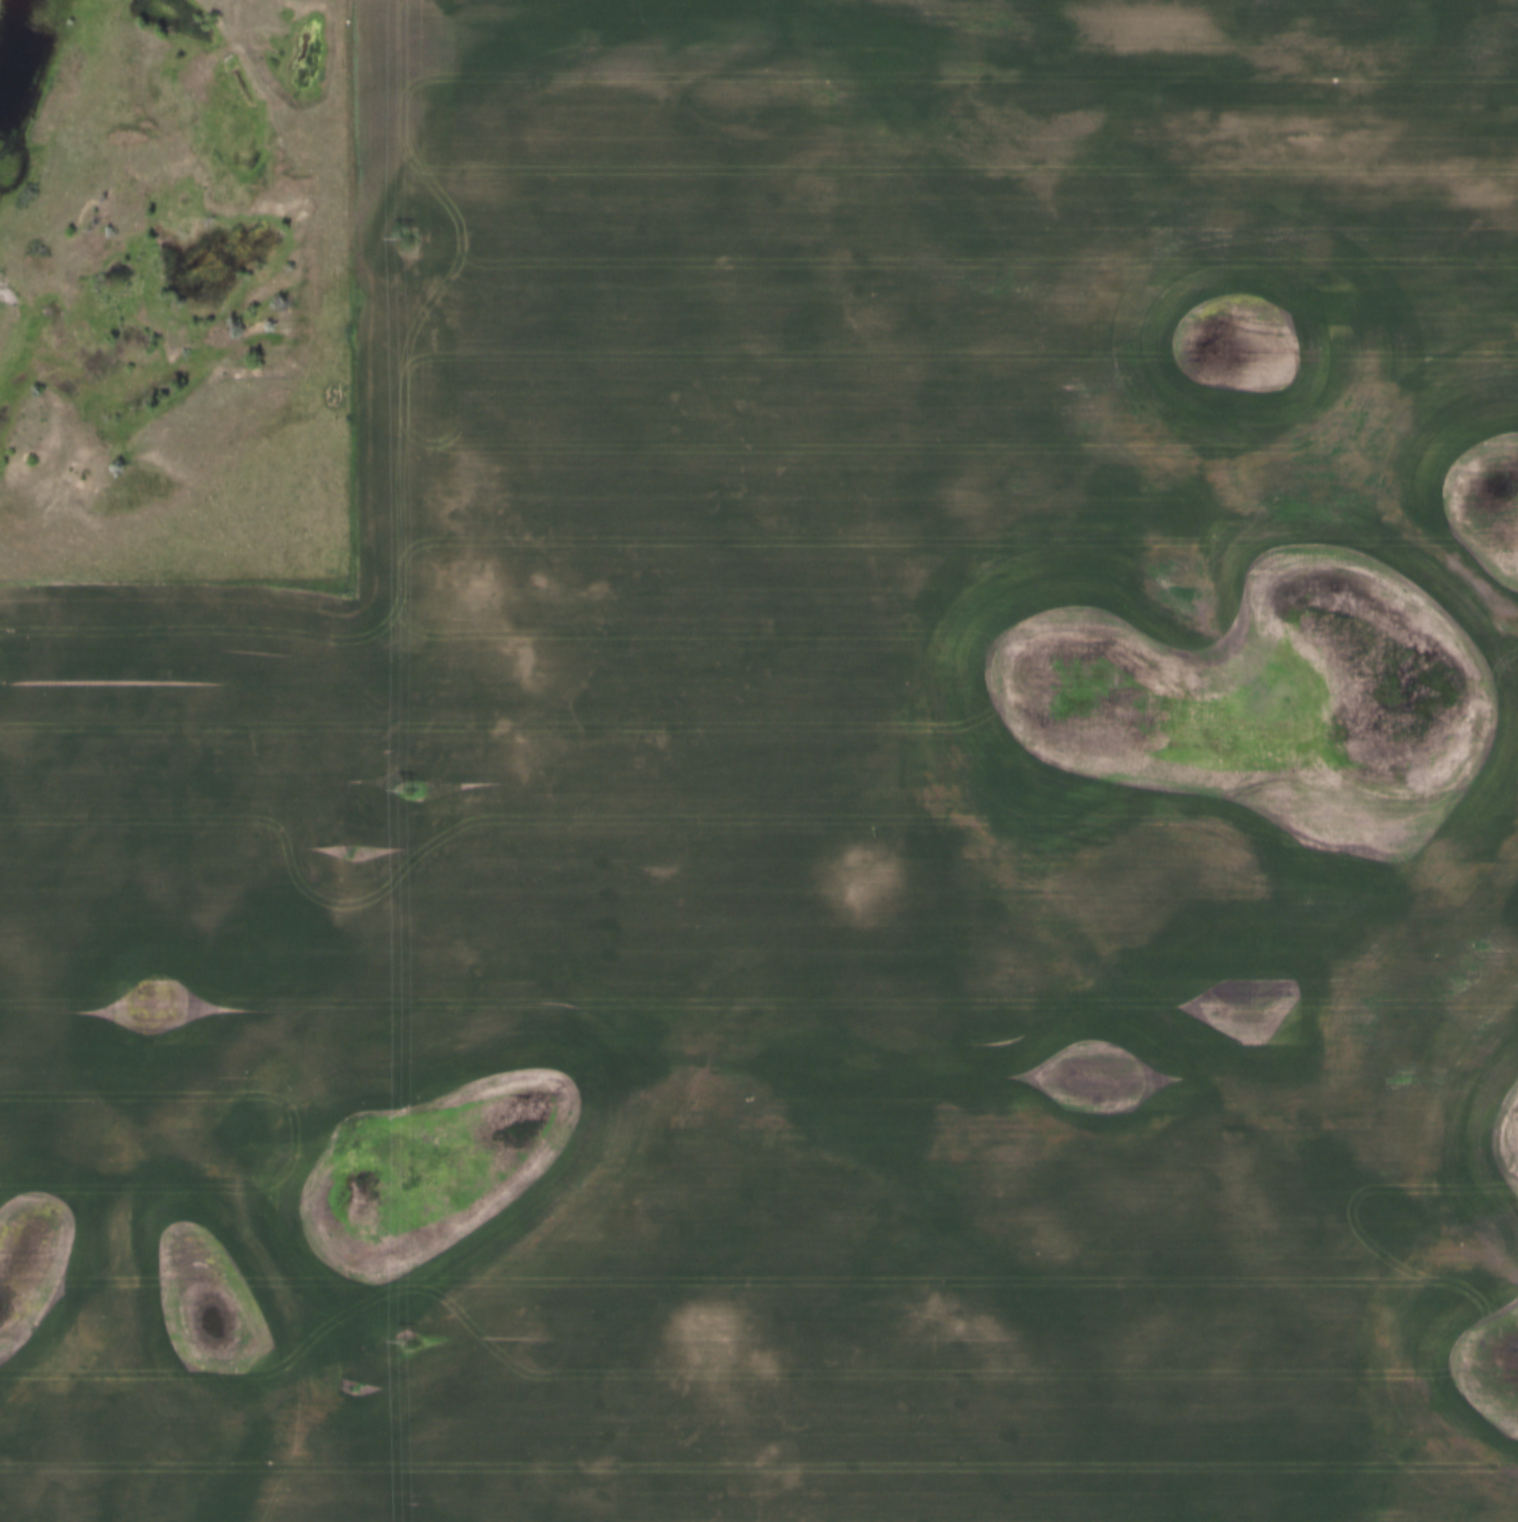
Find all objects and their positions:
power tower: (407, 236)
power tower: (407, 790)
power tower: (408, 1343)

